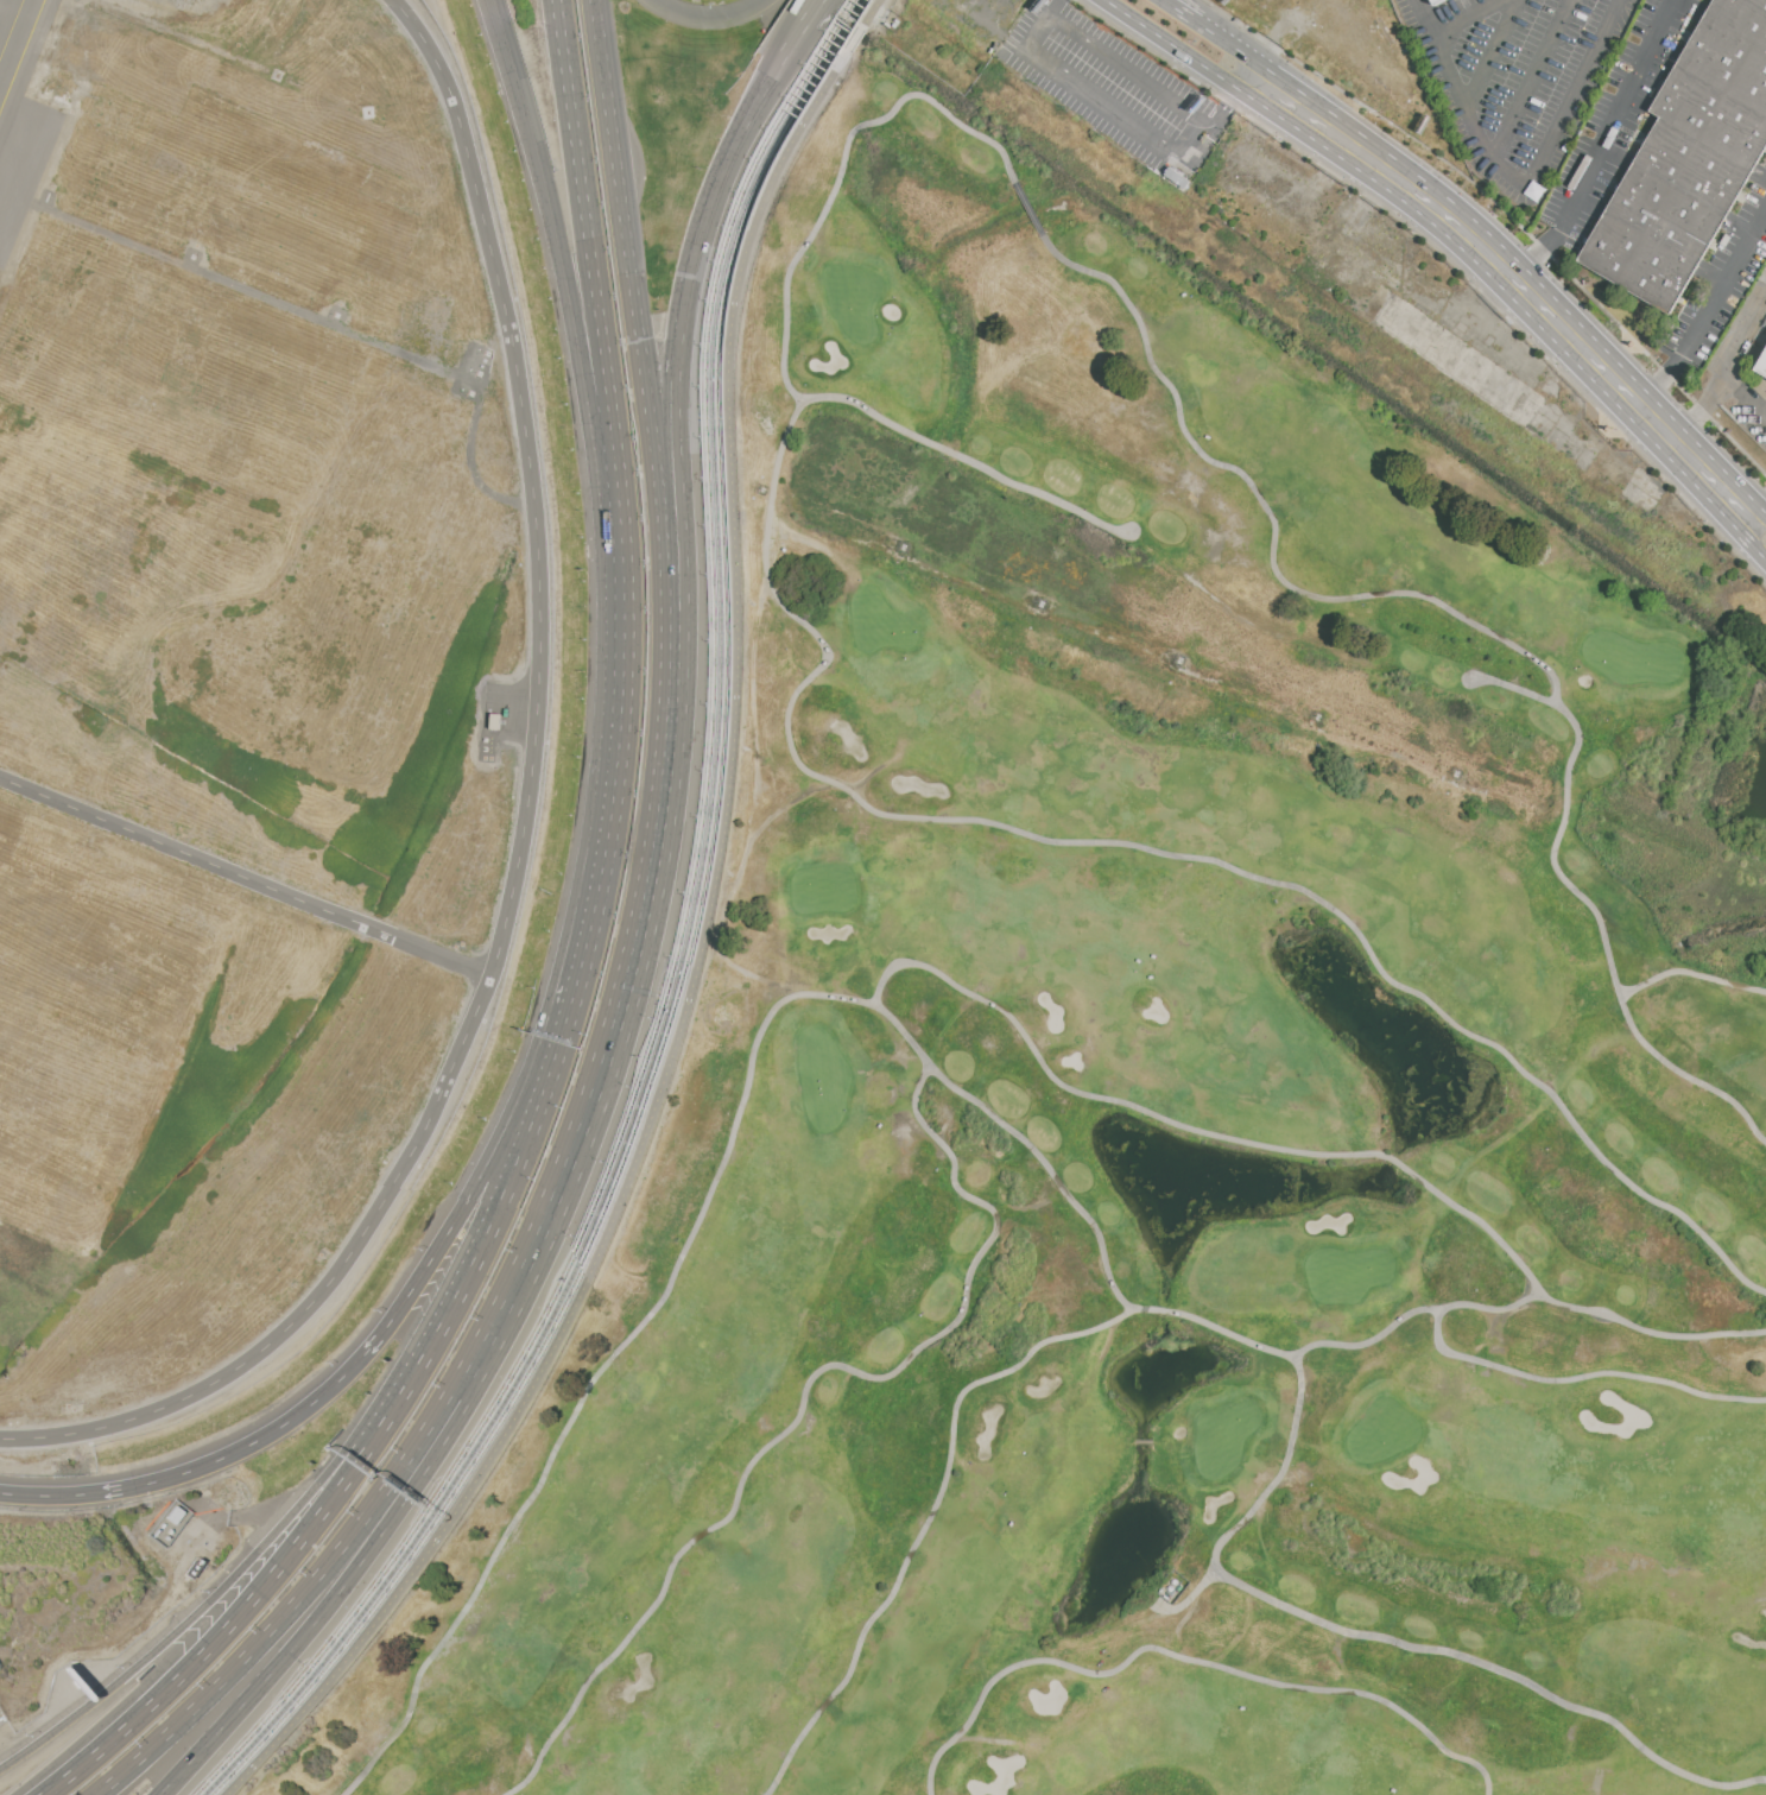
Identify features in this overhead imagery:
building: (1430, 0)
building: (1437, 2)
road: (1184, 10)
road: (815, 12)
road: (714, 19)
road: (1425, 23)
road: (1470, 23)
airport taxiway: (11, 29)
road: (506, 43)
road: (1239, 48)
road: (1488, 51)
road: (1182, 53)
road: (1131, 72)
parking lot: (1524, 78)
road: (1528, 80)
parking lot: (1115, 87)
road: (768, 90)
road: (1091, 90)
road: (1236, 102)
road: (1198, 141)
road: (1602, 144)
building: (1689, 157)
road: (1534, 172)
road: (622, 201)
road: (585, 202)
road: (694, 272)
road: (1523, 280)
road: (1705, 302)
road: (1145, 348)
road: (584, 362)
building: (1761, 364)
road: (1727, 372)
road: (1743, 400)
road: (967, 460)
railway: (710, 462)
railway: (717, 463)
road: (1754, 505)
road: (678, 517)
road: (1754, 517)
road: (665, 522)
road: (621, 523)
road: (1747, 541)
road: (619, 772)
airport: (342, 784)
road: (521, 838)
road: (1151, 849)
road: (1604, 943)
road: (697, 946)
road: (1690, 973)
road: (631, 986)
road: (899, 1029)
road: (547, 1044)
road: (562, 1048)
park: (1150, 1095)
road: (1245, 1142)
road: (1100, 1244)
road: (438, 1253)
road: (452, 1304)
road: (1647, 1329)
road: (475, 1351)
road: (485, 1357)
railway: (518, 1363)
road: (1508, 1369)
railway: (504, 1408)
road: (371, 1428)
road: (378, 1433)
road: (219, 1461)
road: (1277, 1473)
road: (929, 1516)
building: (165, 1528)
road: (287, 1608)
road: (324, 1608)
road: (189, 1619)
road: (219, 1636)
road: (1462, 1656)
road: (1188, 1658)
parking lot: (2, 1720)
railway: (229, 1757)

